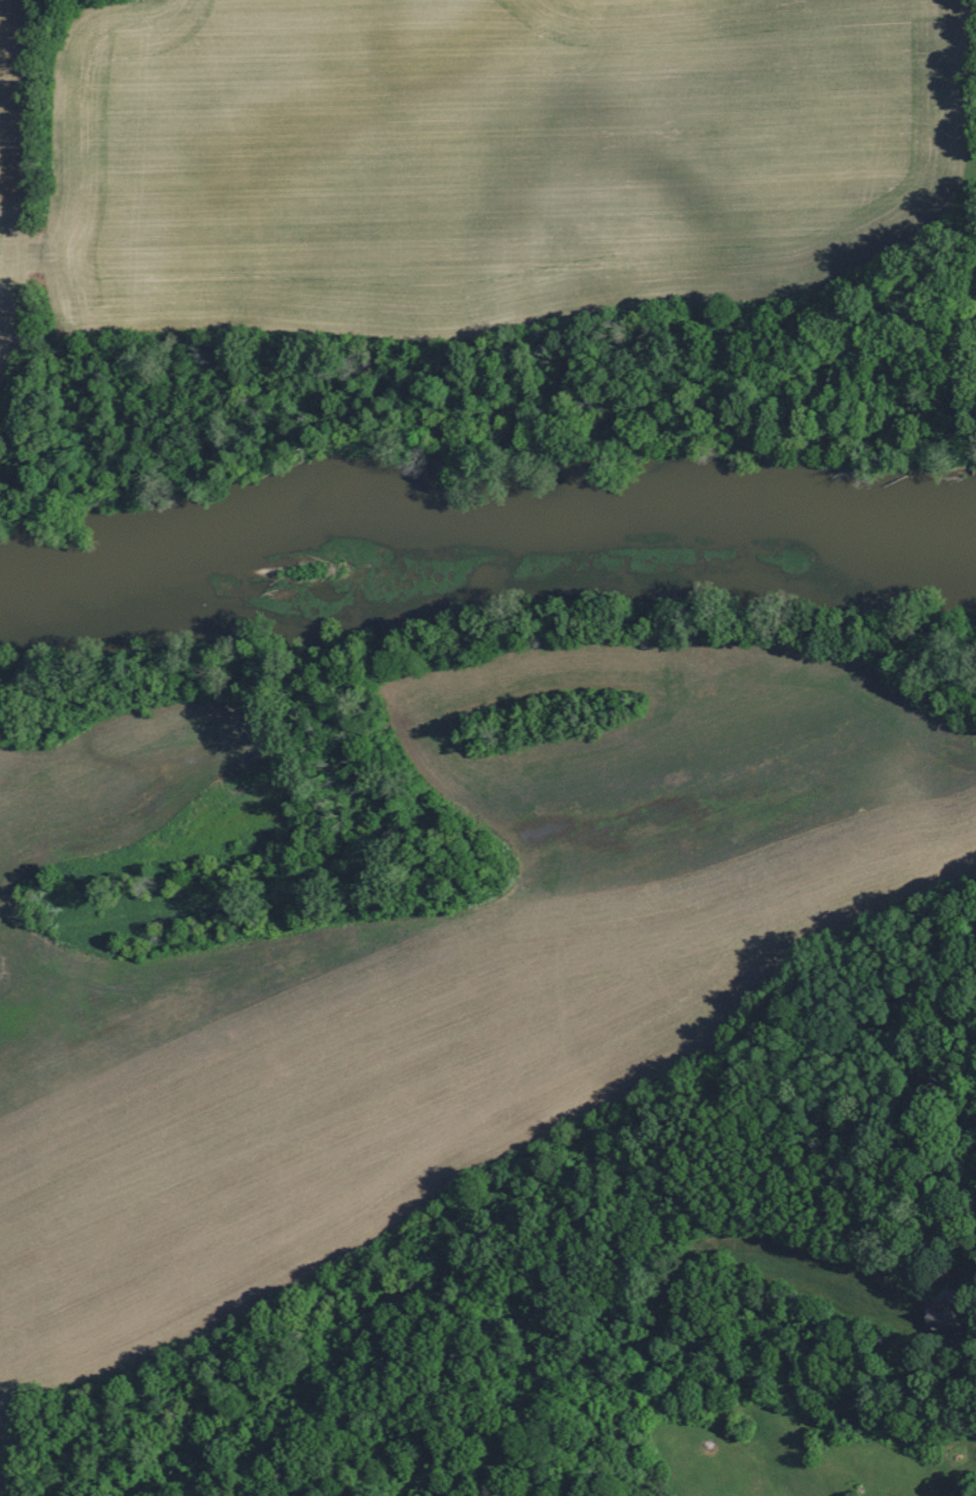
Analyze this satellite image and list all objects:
river: (484, 563)
building: (955, 1324)

